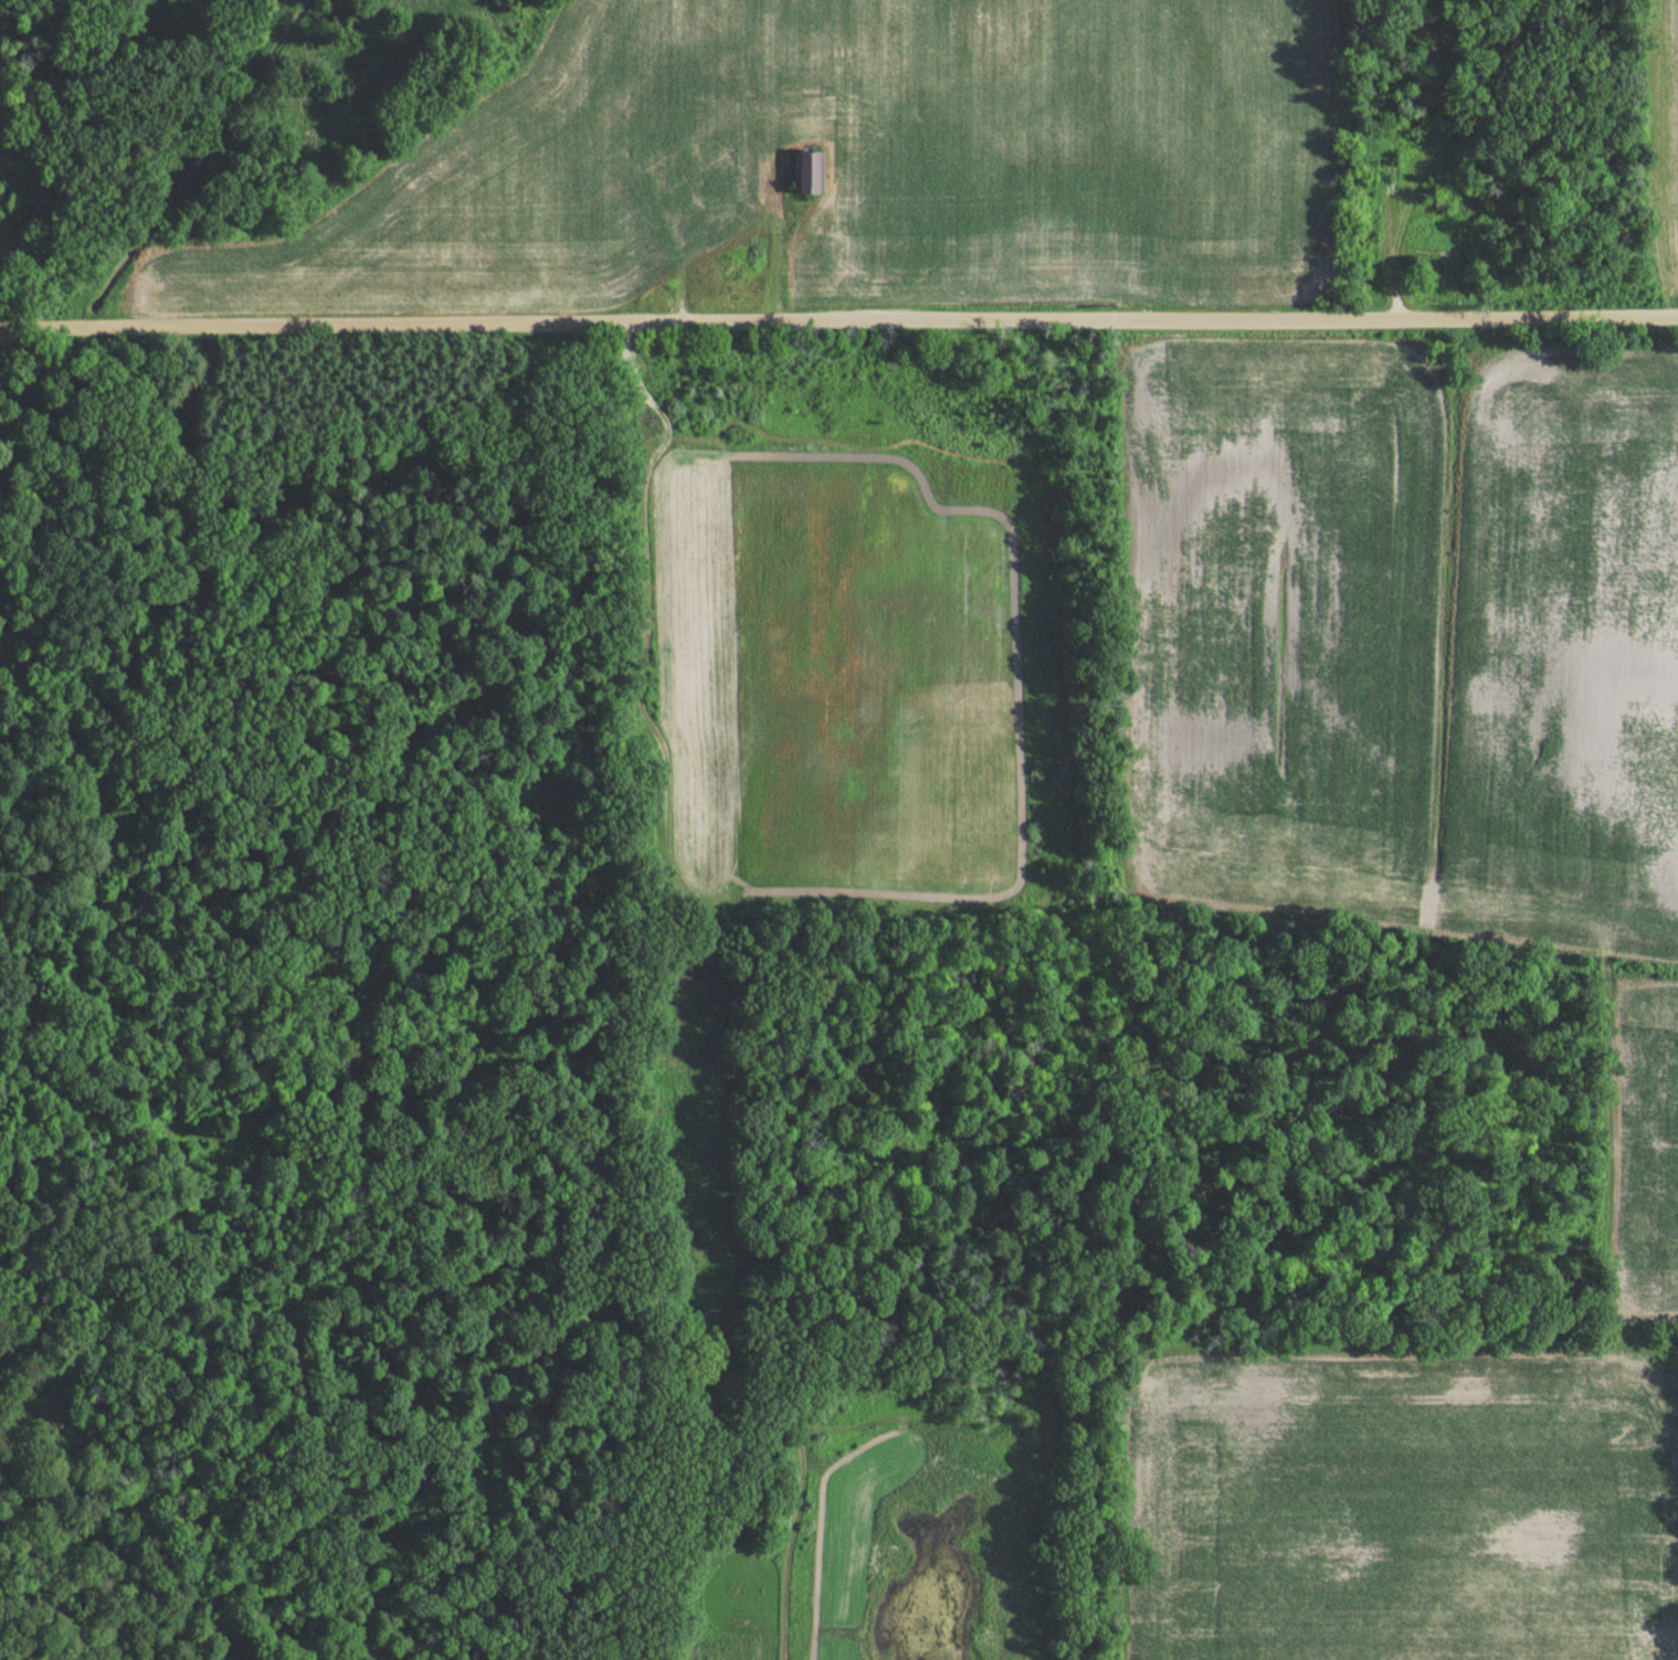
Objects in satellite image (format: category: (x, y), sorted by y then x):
crop: (1666, 141)
crop: (1056, 147)
road: (773, 151)
road: (1420, 168)
building: (808, 178)
crop: (524, 188)
road: (838, 320)
road: (180, 430)
road: (640, 539)
crop: (840, 673)

